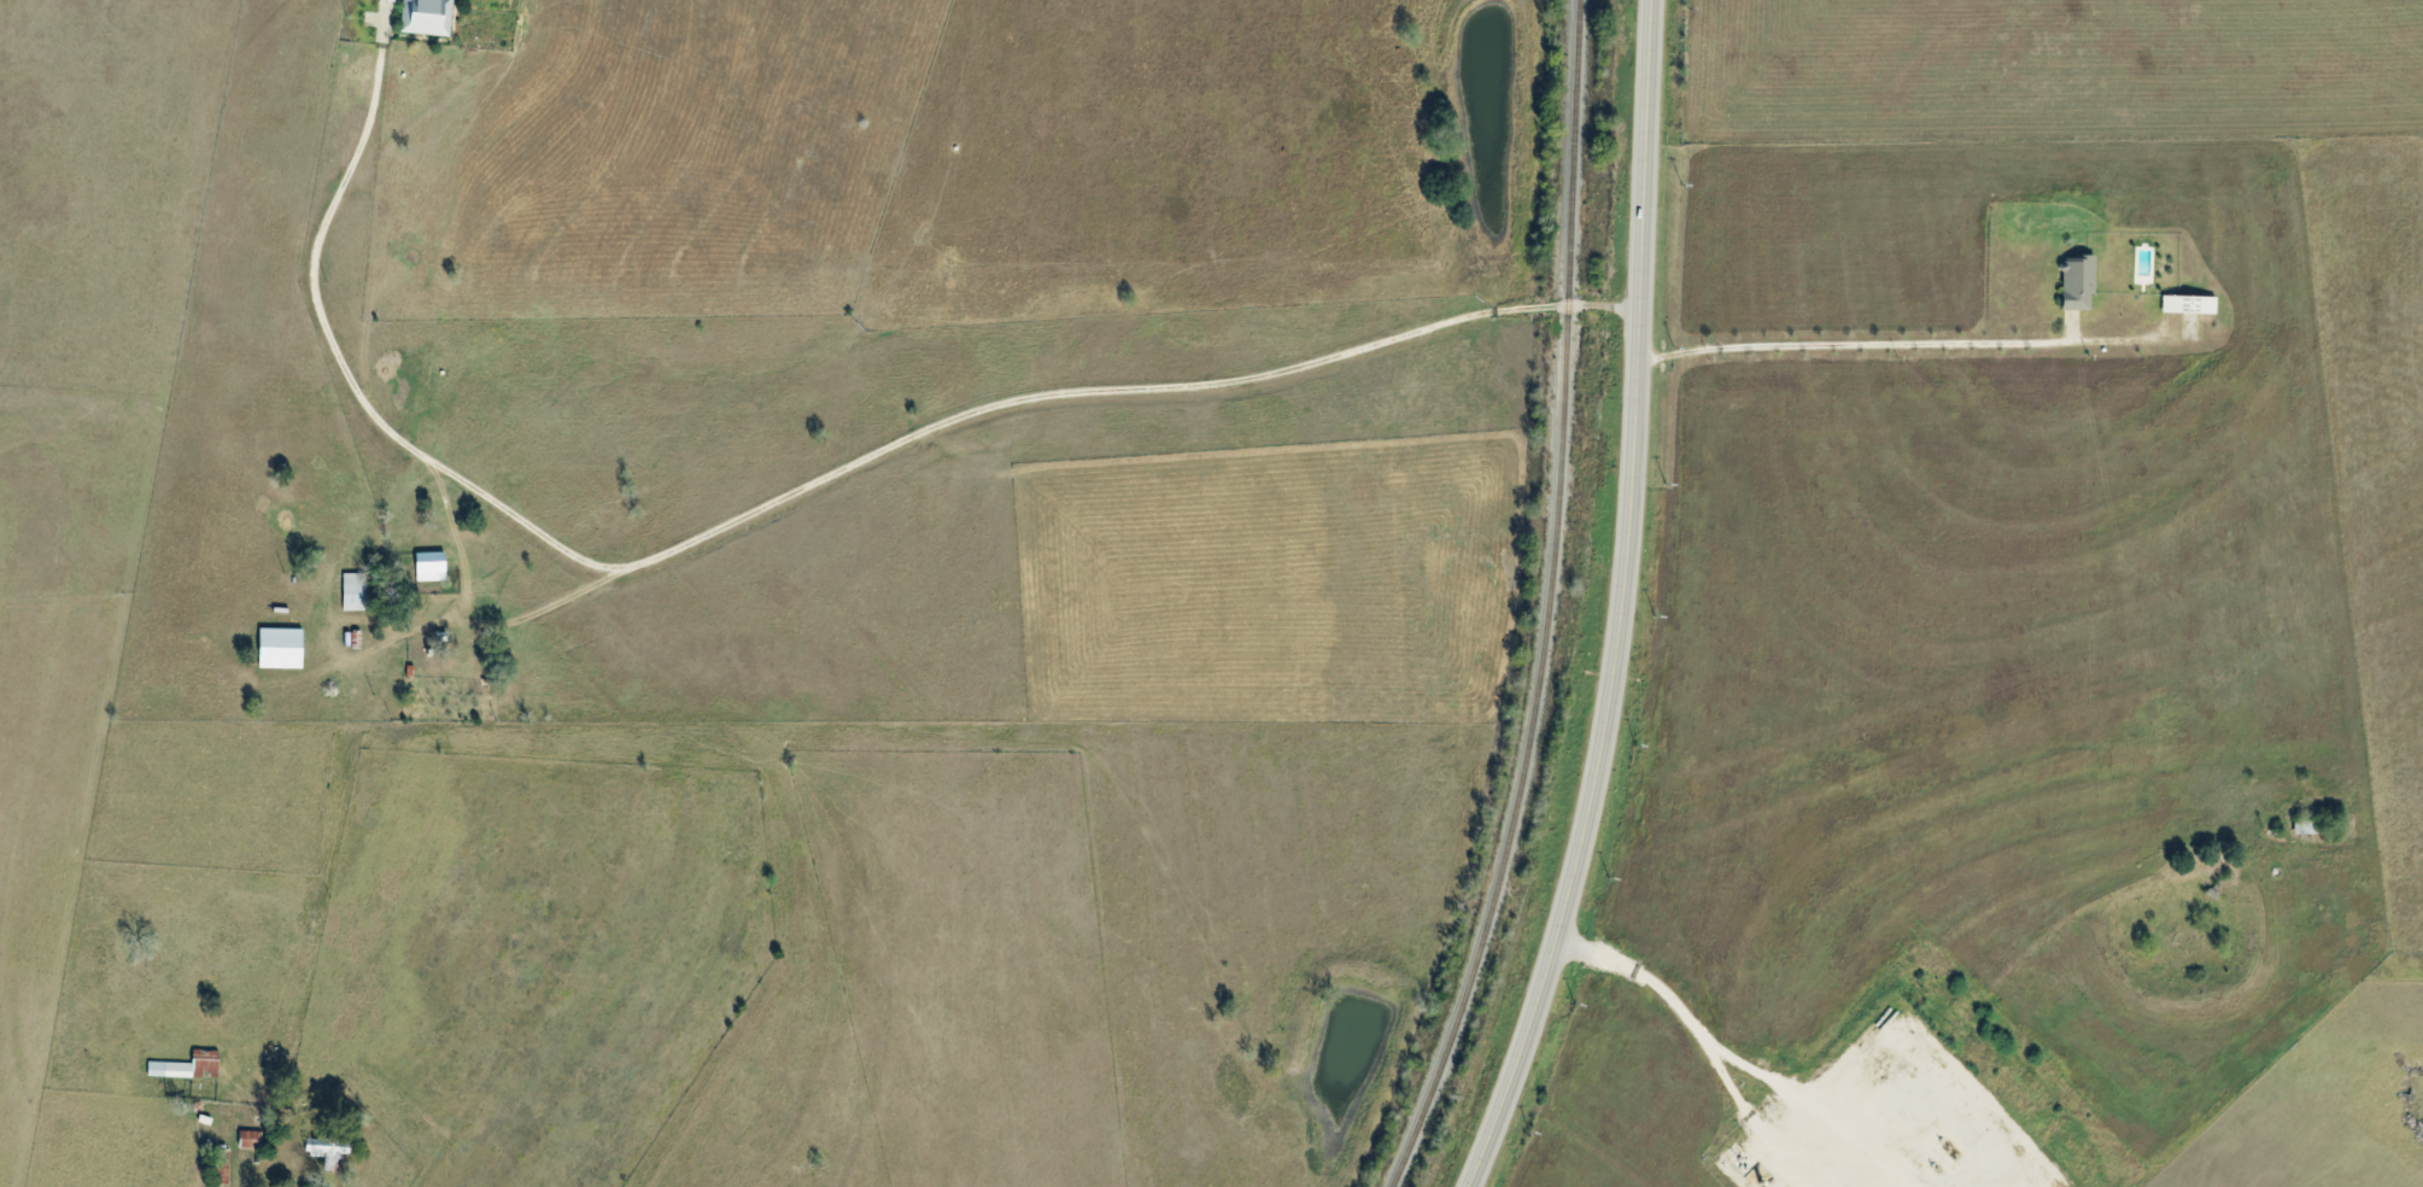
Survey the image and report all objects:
building: (385, 0)
building: (423, 17)
building: (2074, 283)
building: (2185, 304)
road: (790, 496)
building: (426, 566)
building: (351, 591)
railway: (1547, 604)
road: (1629, 604)
building: (275, 648)
building: (2305, 828)
road: (1692, 1048)
building: (185, 1066)
building: (246, 1139)
building: (323, 1152)

